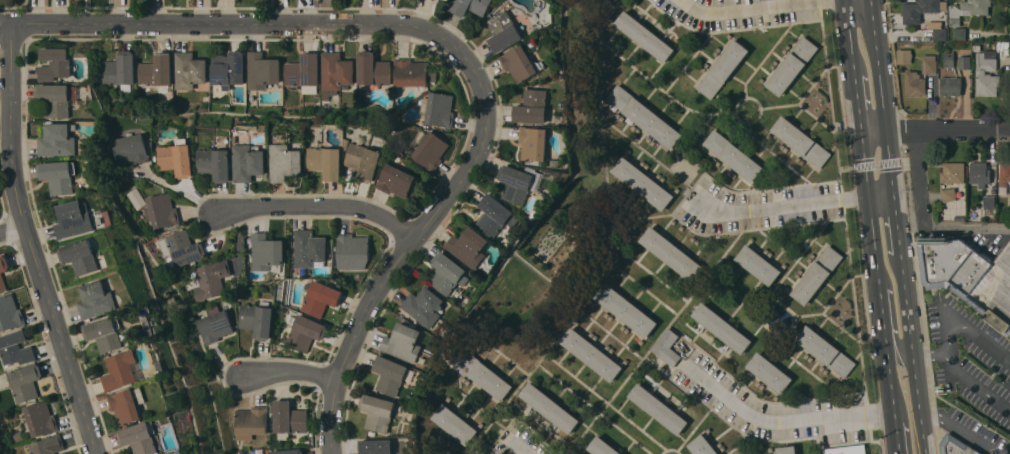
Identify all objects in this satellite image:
road: (858, 1)
building: (461, 6)
building: (480, 6)
road: (762, 9)
building: (921, 9)
building: (968, 10)
building: (977, 21)
road: (225, 25)
building: (502, 32)
road: (850, 32)
building: (959, 33)
building: (940, 34)
building: (645, 36)
building: (977, 47)
building: (905, 56)
building: (949, 59)
building: (965, 62)
building: (55, 64)
building: (518, 64)
building: (929, 64)
building: (792, 66)
building: (120, 69)
building: (228, 69)
building: (723, 69)
building: (156, 70)
building: (188, 70)
building: (373, 70)
building: (262, 71)
building: (304, 73)
building: (335, 73)
building: (413, 73)
building: (986, 73)
building: (915, 84)
building: (951, 86)
road: (857, 98)
road: (883, 98)
building: (55, 99)
building: (532, 107)
building: (439, 109)
building: (645, 116)
road: (935, 128)
building: (58, 140)
building: (801, 141)
building: (533, 143)
building: (131, 149)
building: (430, 150)
building: (733, 155)
building: (177, 158)
building: (286, 161)
building: (326, 161)
building: (364, 161)
building: (249, 162)
building: (216, 164)
building: (953, 172)
building: (979, 173)
building: (1004, 173)
building: (57, 176)
building: (396, 180)
building: (519, 182)
building: (642, 183)
road: (177, 190)
building: (949, 194)
building: (136, 198)
road: (881, 198)
building: (989, 205)
parking lot: (756, 207)
road: (780, 207)
road: (870, 207)
road: (317, 208)
building: (161, 210)
building: (495, 215)
building: (74, 219)
road: (11, 227)
road: (898, 230)
road: (954, 230)
road: (410, 237)
road: (29, 244)
building: (468, 246)
building: (184, 248)
building: (309, 248)
building: (352, 251)
building: (266, 253)
building: (671, 253)
building: (80, 256)
building: (758, 264)
building: (3, 269)
building: (447, 273)
building: (817, 274)
building: (969, 275)
building: (210, 279)
building: (320, 298)
building: (97, 300)
building: (423, 306)
building: (626, 309)
building: (10, 313)
road: (883, 317)
building: (258, 319)
building: (215, 324)
building: (721, 327)
building: (306, 332)
building: (105, 333)
building: (402, 343)
road: (989, 343)
building: (666, 347)
building: (16, 348)
road: (900, 349)
building: (826, 351)
road: (932, 353)
building: (591, 354)
road: (914, 358)
building: (121, 370)
road: (286, 372)
building: (769, 372)
building: (483, 374)
road: (961, 374)
building: (389, 375)
parking lot: (970, 375)
road: (890, 380)
building: (25, 382)
building: (129, 404)
building: (549, 407)
building: (658, 408)
parking lot: (776, 409)
building: (377, 412)
building: (41, 418)
building: (289, 418)
building: (252, 420)
road: (784, 420)
building: (455, 424)
road: (961, 430)
road: (895, 433)
building: (141, 438)
parking lot: (520, 442)
building: (47, 445)
building: (376, 446)
building: (702, 446)
building: (956, 446)
building: (602, 447)
road: (521, 448)
building: (787, 449)
building: (847, 449)
building: (288, 451)
building: (168, 453)

